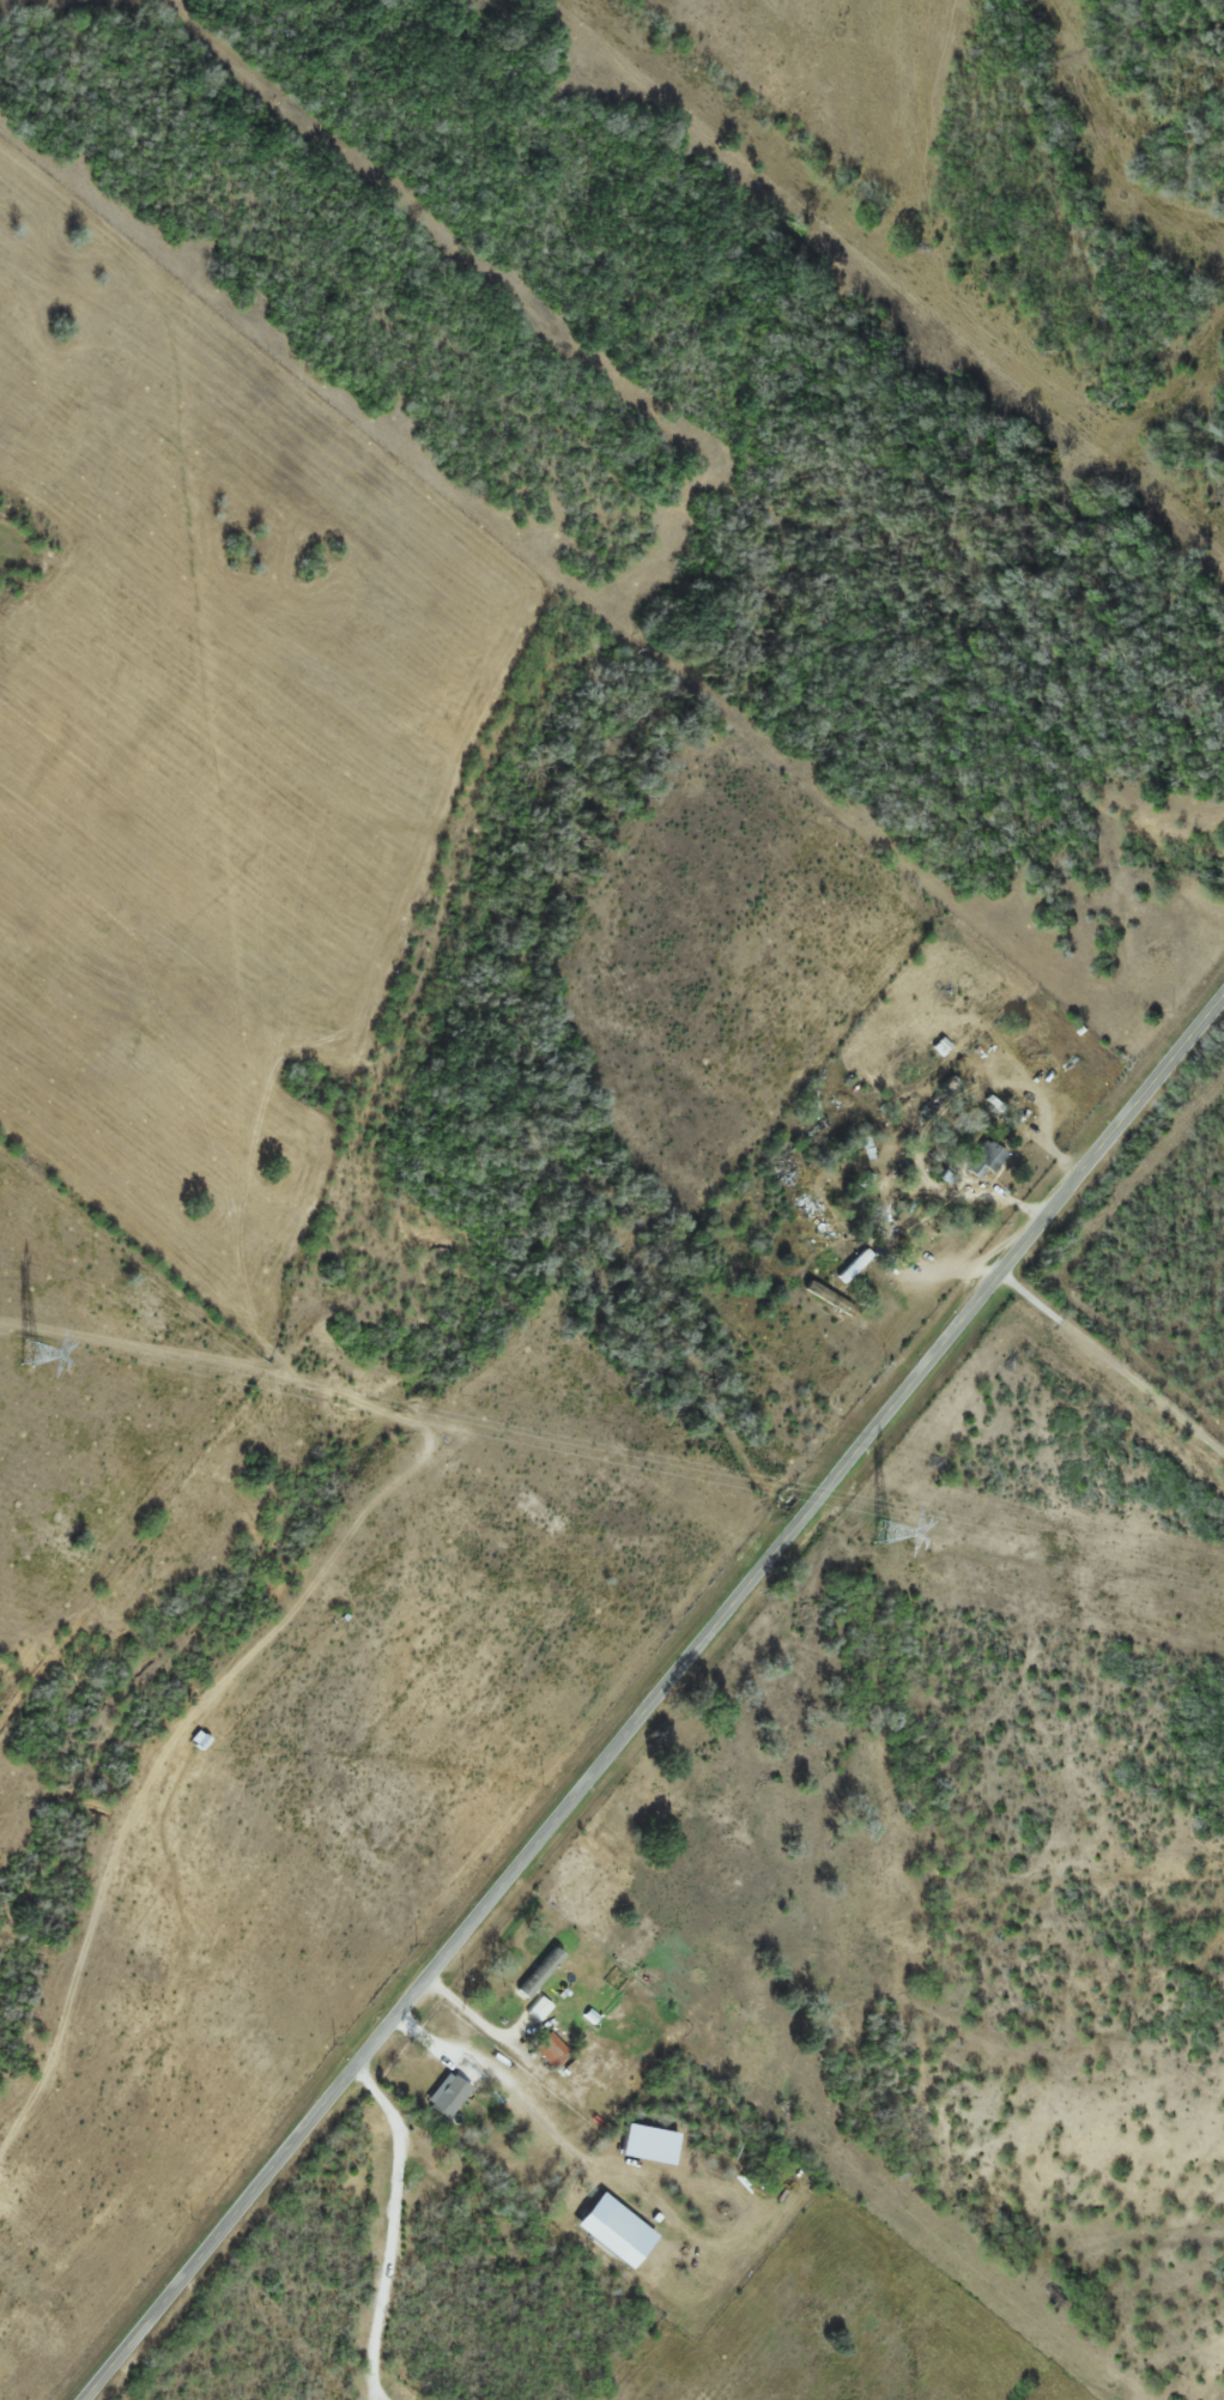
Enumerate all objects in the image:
building: (938, 1096)
building: (982, 1157)
building: (846, 1278)
power tower: (25, 1352)
power tower: (878, 1533)
road: (653, 1699)
building: (549, 2051)
building: (453, 2080)

